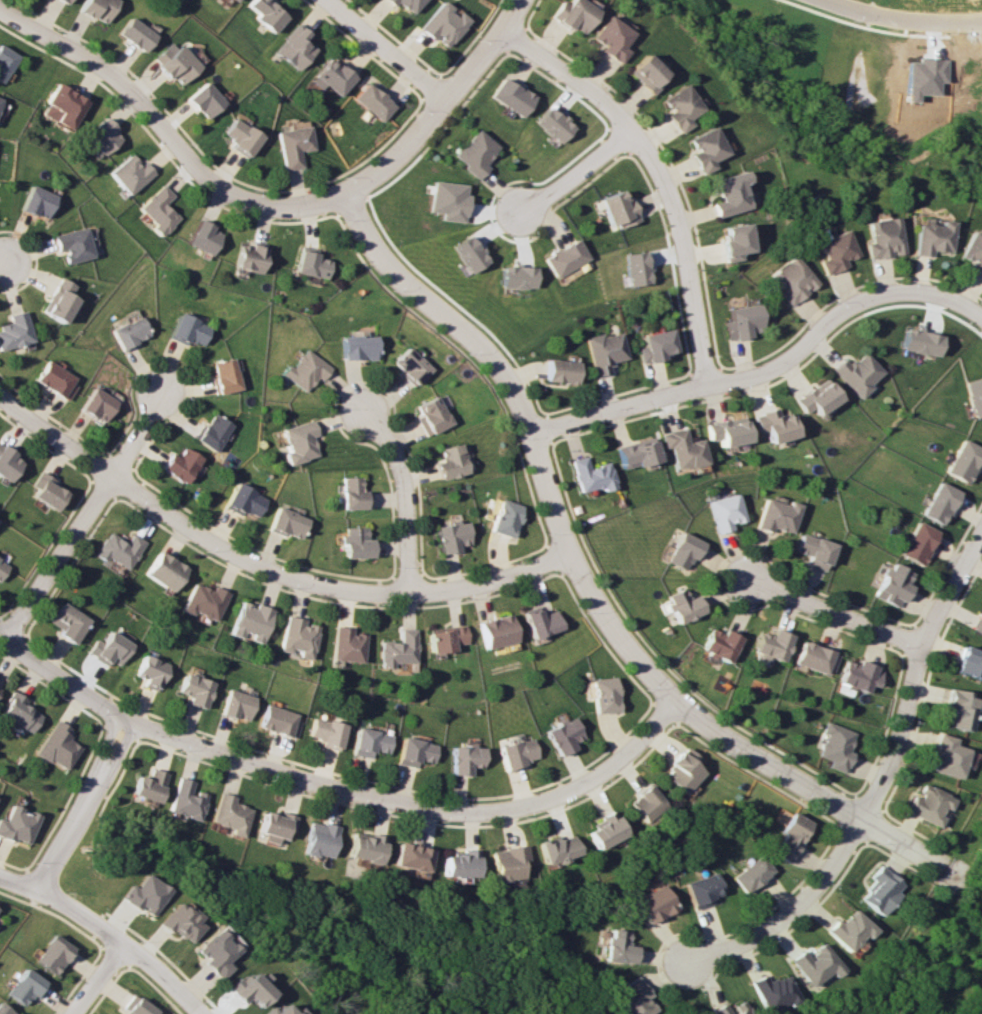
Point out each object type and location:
building: (233, 0)
building: (63, 1)
building: (403, 4)
building: (96, 9)
building: (266, 13)
building: (572, 14)
road: (899, 20)
building: (440, 24)
building: (133, 34)
building: (610, 38)
building: (295, 47)
road: (382, 52)
building: (5, 60)
building: (173, 62)
building: (644, 73)
building: (333, 76)
building: (509, 96)
building: (203, 100)
building: (372, 101)
building: (62, 105)
road: (441, 105)
building: (678, 107)
building: (551, 124)
road: (166, 133)
building: (100, 136)
building: (239, 136)
building: (293, 145)
building: (704, 149)
building: (474, 153)
building: (129, 173)
road: (575, 175)
road: (658, 175)
building: (727, 194)
building: (448, 200)
building: (36, 201)
building: (617, 209)
building: (157, 210)
building: (202, 237)
building: (883, 237)
building: (932, 238)
building: (732, 242)
building: (72, 244)
building: (834, 251)
building: (973, 251)
building: (468, 254)
building: (249, 257)
building: (564, 257)
road: (7, 262)
building: (310, 262)
building: (635, 268)
building: (517, 276)
building: (791, 280)
building: (57, 300)
road: (838, 312)
building: (740, 321)
building: (188, 330)
building: (14, 331)
building: (129, 332)
building: (922, 342)
building: (654, 346)
building: (357, 347)
building: (604, 351)
building: (410, 365)
building: (305, 370)
building: (560, 371)
building: (859, 373)
building: (225, 375)
building: (55, 381)
building: (974, 396)
building: (819, 397)
building: (97, 405)
road: (621, 410)
building: (431, 415)
building: (776, 425)
building: (728, 431)
building: (213, 432)
road: (532, 433)
road: (54, 437)
building: (298, 441)
building: (683, 448)
building: (637, 454)
building: (963, 460)
building: (450, 461)
building: (7, 463)
building: (180, 464)
building: (592, 475)
building: (46, 491)
building: (352, 493)
road: (403, 495)
building: (244, 501)
building: (939, 502)
building: (725, 512)
road: (86, 515)
building: (778, 516)
building: (505, 518)
building: (287, 523)
building: (451, 536)
building: (355, 542)
building: (917, 543)
building: (118, 549)
building: (815, 550)
building: (683, 551)
building: (2, 566)
building: (164, 570)
building: (893, 584)
road: (328, 587)
road: (951, 589)
building: (204, 601)
building: (682, 605)
road: (832, 613)
building: (250, 621)
building: (538, 621)
building: (66, 622)
building: (977, 625)
building: (495, 631)
building: (297, 636)
building: (444, 638)
building: (347, 644)
building: (719, 644)
building: (772, 645)
building: (107, 648)
building: (397, 649)
building: (816, 658)
building: (969, 662)
building: (149, 671)
building: (857, 677)
road: (61, 680)
building: (194, 689)
building: (603, 694)
building: (236, 704)
building: (958, 710)
building: (16, 713)
building: (279, 721)
building: (325, 732)
building: (563, 735)
building: (369, 742)
building: (53, 745)
building: (836, 746)
building: (414, 751)
building: (516, 753)
building: (948, 756)
building: (465, 758)
building: (681, 770)
building: (146, 785)
road: (807, 787)
building: (184, 799)
building: (644, 803)
road: (411, 804)
building: (929, 804)
road: (79, 806)
building: (229, 814)
building: (16, 824)
building: (274, 825)
building: (604, 829)
building: (790, 836)
building: (319, 839)
road: (845, 845)
building: (365, 847)
building: (556, 849)
building: (411, 856)
building: (507, 862)
building: (460, 864)
building: (751, 874)
road: (18, 884)
building: (700, 890)
building: (881, 890)
building: (142, 894)
building: (653, 904)
building: (179, 922)
building: (849, 930)
road: (123, 945)
building: (617, 947)
building: (215, 950)
building: (52, 954)
building: (814, 964)
road: (98, 980)
building: (25, 987)
building: (248, 988)
building: (771, 991)
building: (632, 998)
building: (736, 1007)
building: (139, 1008)
building: (4, 1010)
building: (281, 1010)

